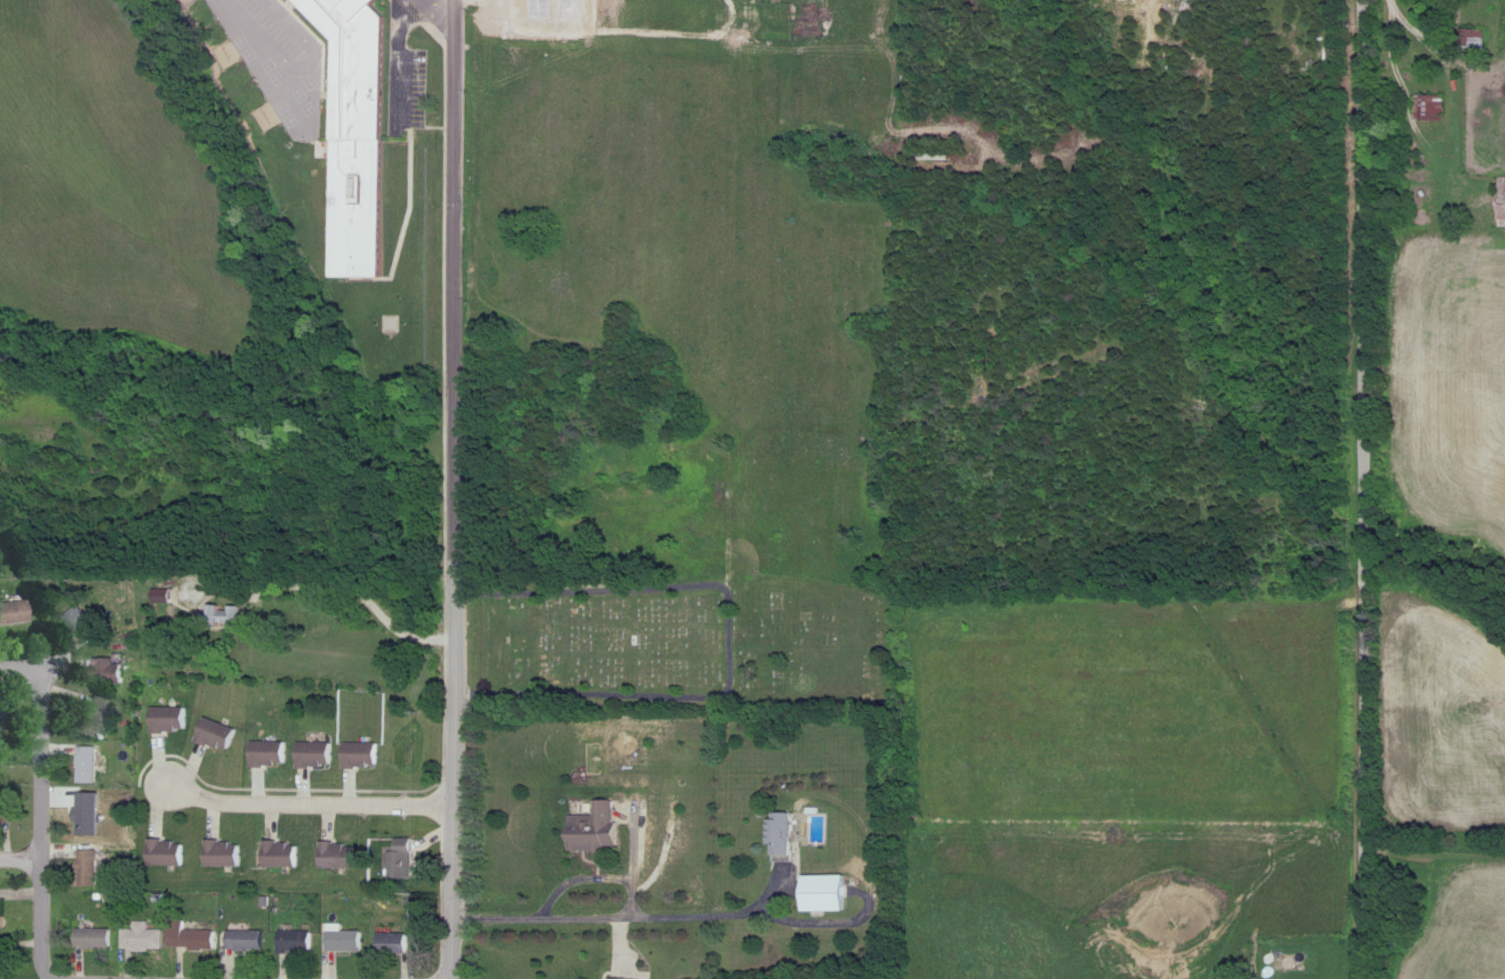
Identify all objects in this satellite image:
road: (441, 11)
road: (432, 15)
road: (1428, 32)
building: (1480, 38)
road: (1390, 64)
road: (401, 66)
road: (299, 73)
building: (1434, 107)
building: (357, 130)
building: (1504, 204)
road: (454, 489)
road: (1355, 489)
road: (447, 499)
road: (331, 580)
building: (9, 597)
building: (76, 608)
building: (15, 613)
building: (227, 616)
building: (87, 625)
road: (728, 635)
park: (674, 641)
road: (14, 654)
building: (103, 654)
building: (114, 671)
building: (1, 699)
building: (88, 700)
building: (162, 704)
building: (99, 716)
building: (1, 717)
building: (214, 719)
building: (173, 720)
building: (220, 735)
building: (262, 737)
building: (308, 738)
building: (357, 742)
building: (82, 749)
building: (271, 754)
building: (317, 755)
building: (363, 755)
building: (91, 765)
road: (277, 776)
road: (308, 792)
building: (4, 798)
building: (83, 801)
building: (7, 813)
building: (90, 817)
building: (597, 830)
road: (633, 834)
building: (798, 835)
building: (160, 837)
building: (215, 839)
building: (273, 839)
building: (333, 839)
building: (401, 845)
road: (19, 846)
building: (82, 852)
building: (169, 852)
building: (226, 853)
building: (284, 853)
building: (341, 855)
building: (399, 862)
road: (597, 866)
building: (91, 867)
building: (828, 893)
road: (620, 904)
road: (830, 907)
building: (1, 909)
building: (135, 922)
building: (186, 922)
building: (88, 923)
building: (238, 924)
building: (289, 925)
building: (340, 926)
building: (393, 929)
building: (143, 937)
building: (94, 938)
building: (193, 938)
building: (344, 939)
building: (247, 940)
building: (298, 941)
building: (398, 942)
building: (2, 959)
road: (93, 970)
building: (3, 977)
road: (297, 977)
building: (628, 978)

